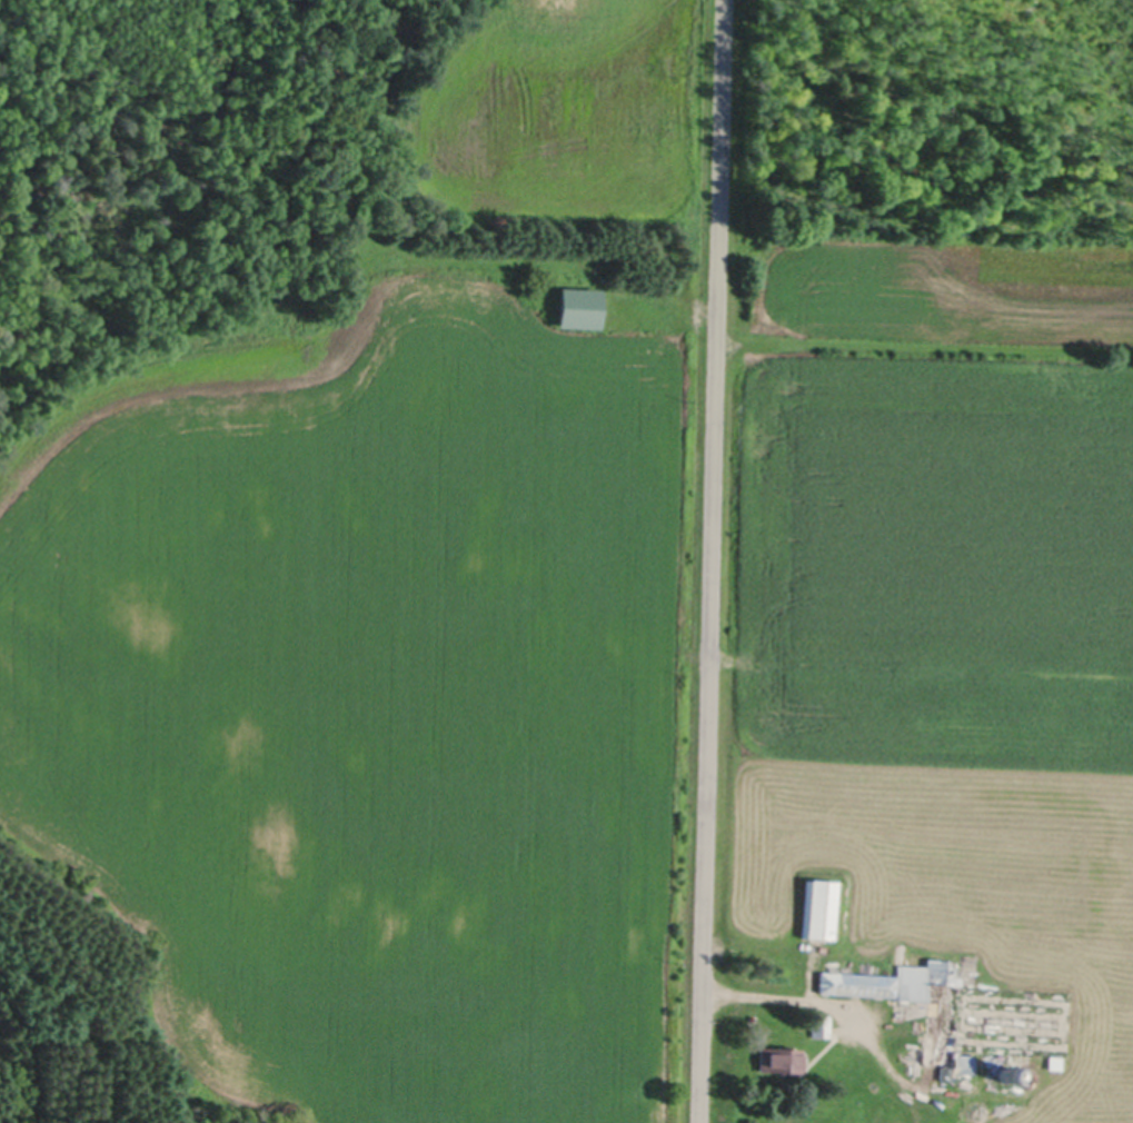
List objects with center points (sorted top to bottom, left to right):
road: (716, 561)
building: (821, 907)
building: (821, 1024)
building: (941, 1025)
building: (778, 1060)
building: (1007, 1071)

